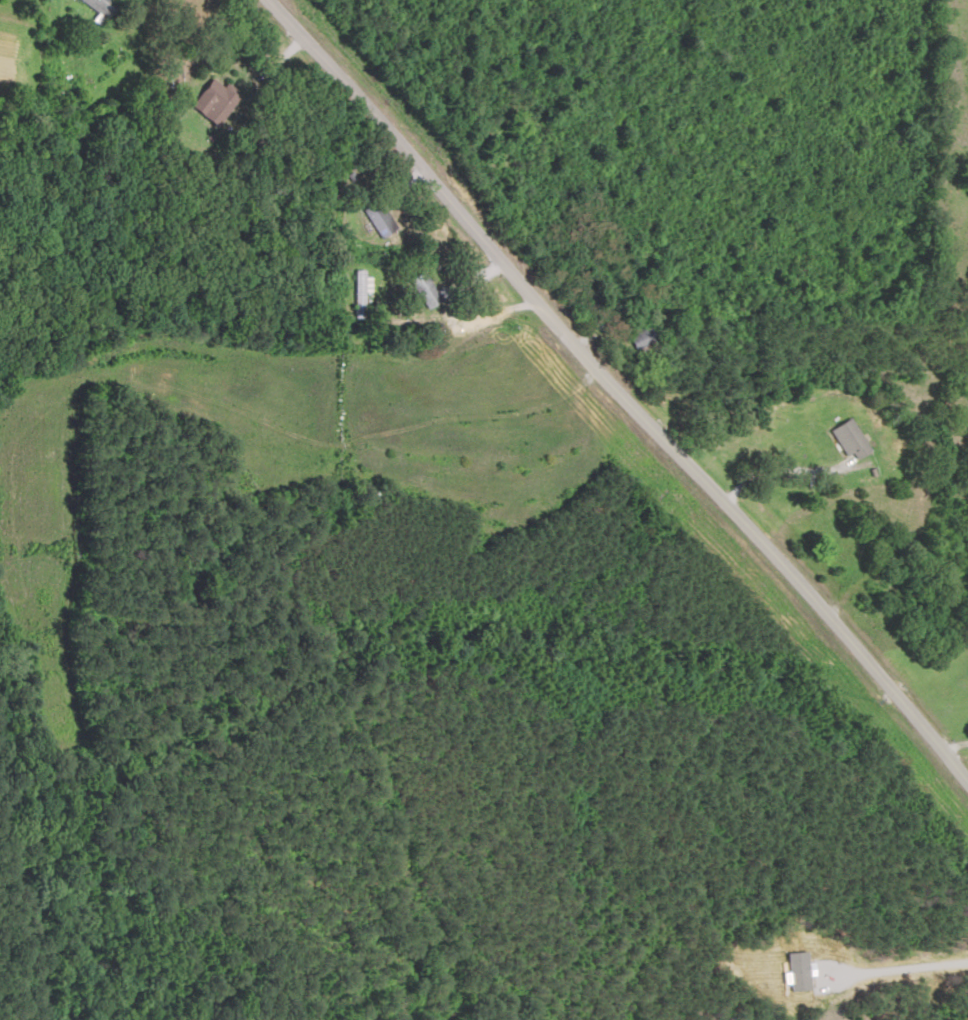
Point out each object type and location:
building: (106, 7)
building: (217, 102)
building: (381, 220)
building: (427, 290)
building: (361, 295)
road: (626, 381)
building: (853, 439)

